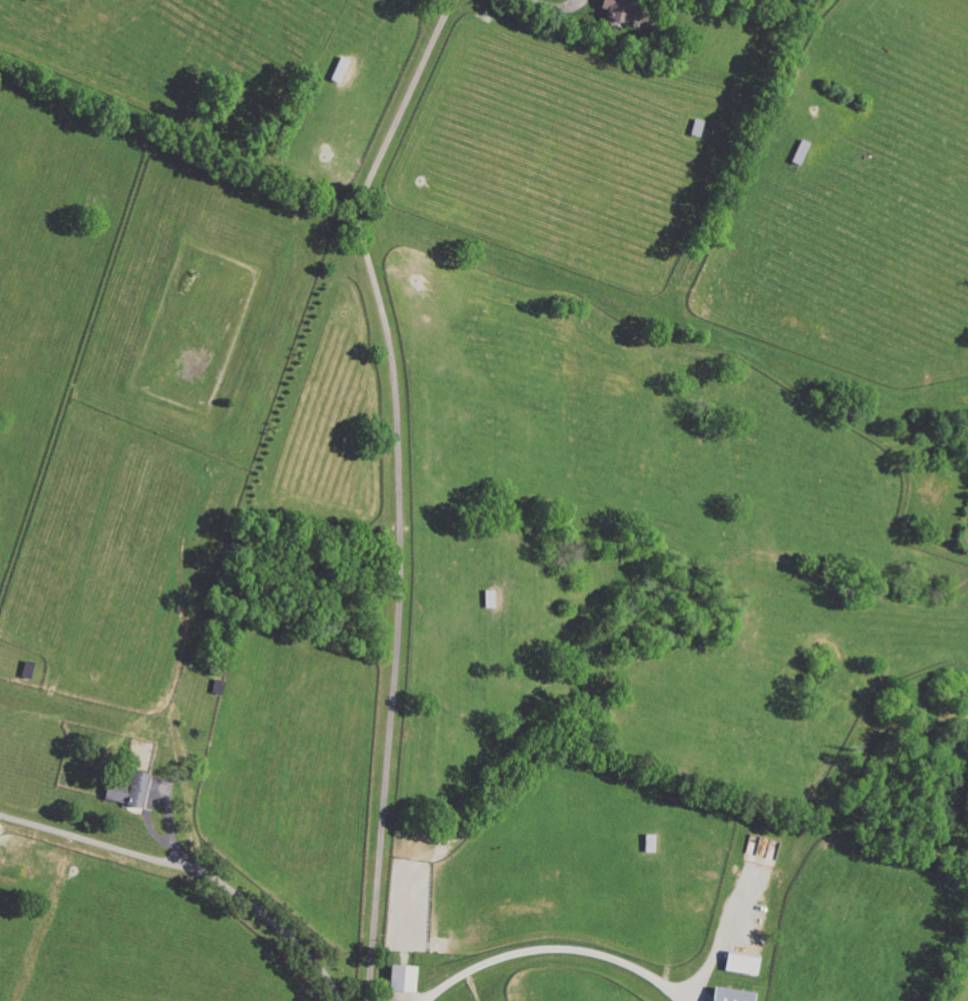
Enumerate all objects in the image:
road: (553, 6)
building: (613, 9)
building: (338, 70)
road: (399, 489)
building: (127, 791)
road: (193, 870)
road: (550, 949)
building: (740, 963)
building: (399, 980)
building: (728, 995)

